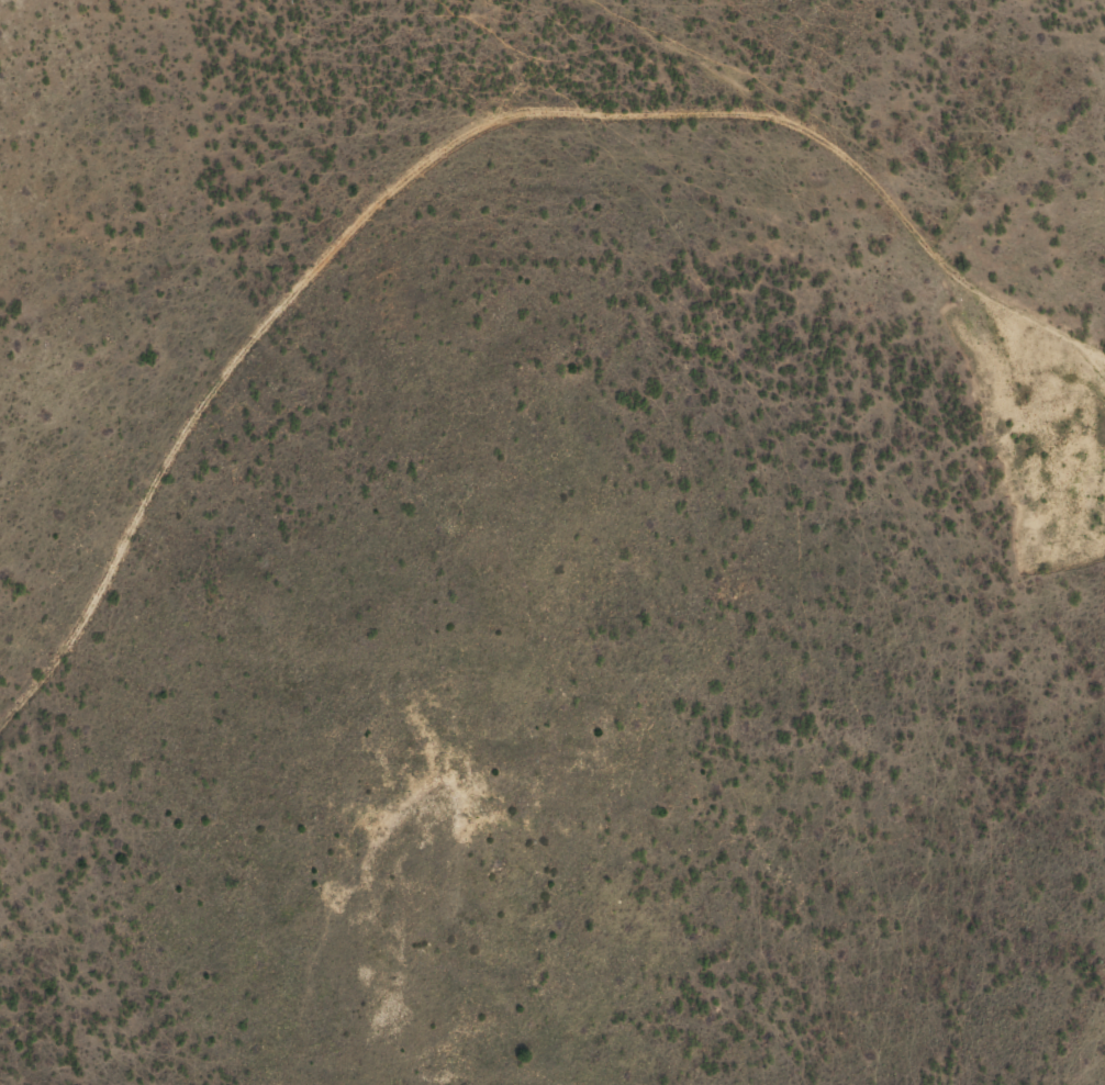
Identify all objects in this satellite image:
road: (601, 36)
road: (891, 199)
road: (271, 354)

